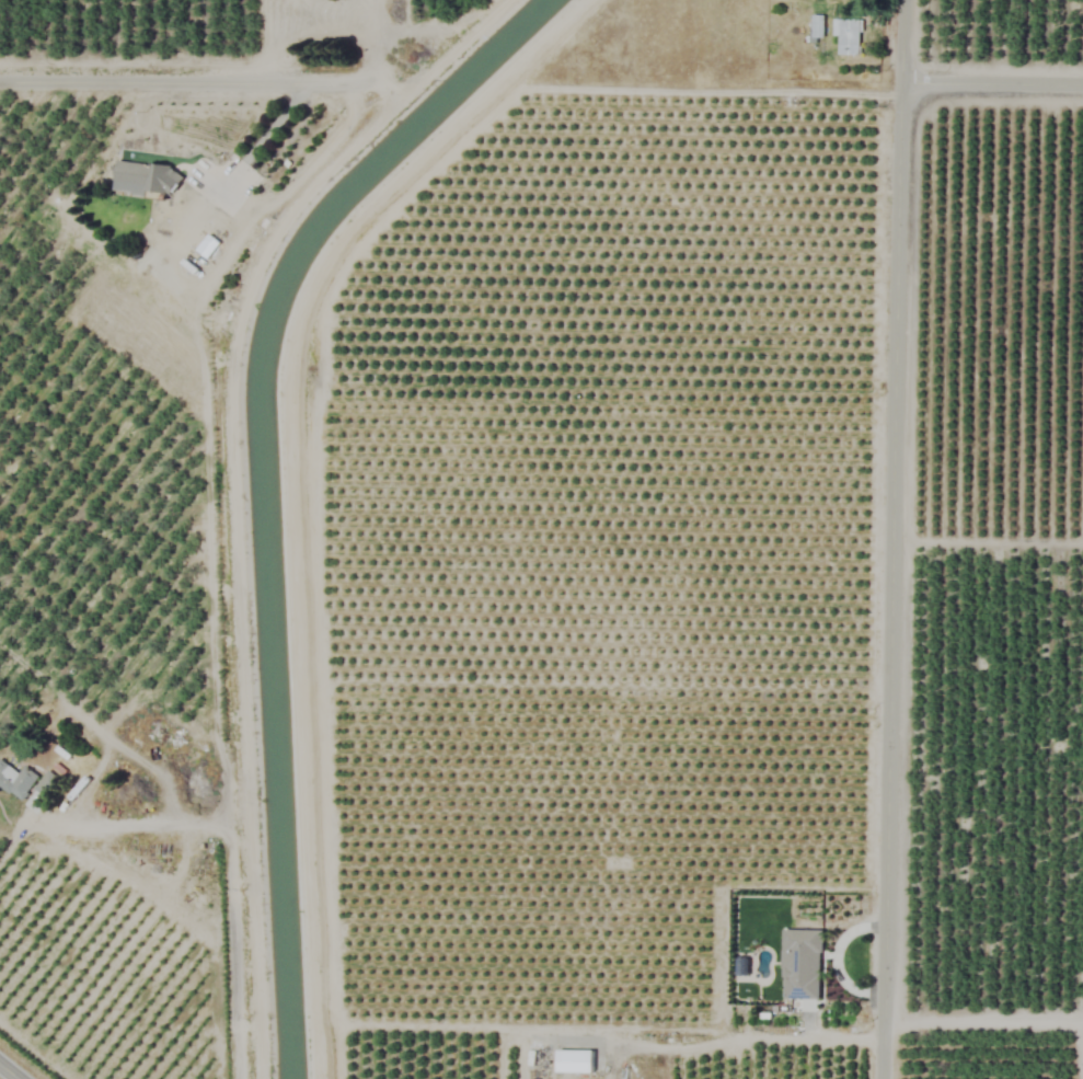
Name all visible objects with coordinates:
building: (816, 26)
building: (848, 37)
road: (189, 78)
road: (992, 82)
road: (306, 175)
building: (145, 179)
crop: (541, 539)
road: (894, 539)
road: (988, 540)
building: (136, 726)
building: (26, 787)
road: (224, 892)
building: (800, 964)
road: (983, 1021)
road: (8, 1072)

